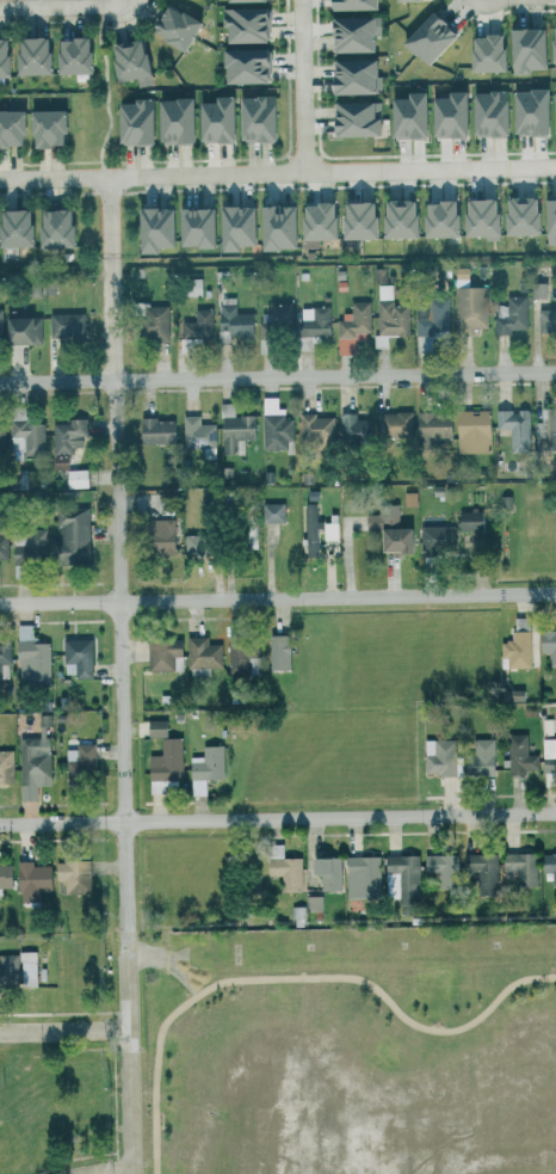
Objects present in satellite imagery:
building: (235, 0)
building: (346, 4)
road: (63, 7)
building: (241, 24)
building: (168, 26)
building: (348, 32)
building: (425, 36)
building: (550, 42)
building: (521, 49)
building: (480, 53)
building: (0, 55)
building: (26, 55)
building: (66, 55)
building: (122, 59)
building: (241, 64)
building: (347, 75)
road: (303, 86)
road: (106, 91)
building: (525, 111)
building: (552, 111)
building: (484, 112)
building: (444, 115)
building: (403, 116)
building: (253, 118)
building: (352, 118)
building: (210, 119)
building: (130, 121)
building: (169, 121)
building: (8, 127)
building: (41, 128)
road: (277, 172)
building: (514, 215)
building: (475, 217)
building: (393, 219)
building: (433, 219)
building: (352, 220)
building: (311, 221)
building: (548, 221)
building: (12, 227)
building: (48, 227)
building: (190, 227)
building: (230, 227)
building: (272, 227)
building: (148, 228)
building: (459, 277)
road: (110, 278)
building: (191, 287)
building: (537, 289)
building: (469, 308)
building: (509, 314)
building: (276, 316)
building: (388, 316)
building: (431, 316)
building: (544, 319)
building: (231, 320)
building: (152, 321)
building: (311, 321)
building: (64, 326)
building: (197, 326)
building: (351, 326)
building: (19, 330)
road: (278, 377)
building: (393, 423)
building: (430, 425)
building: (313, 428)
building: (352, 428)
building: (512, 428)
building: (545, 428)
building: (153, 430)
building: (470, 431)
building: (194, 432)
building: (24, 434)
building: (0, 435)
building: (67, 435)
building: (56, 461)
building: (75, 478)
building: (271, 511)
building: (469, 521)
building: (385, 529)
building: (316, 530)
building: (156, 536)
building: (434, 536)
building: (69, 537)
building: (193, 545)
building: (2, 547)
road: (277, 597)
building: (546, 645)
building: (518, 649)
building: (4, 650)
building: (274, 652)
building: (200, 653)
building: (162, 654)
building: (75, 657)
building: (239, 657)
building: (30, 658)
building: (552, 688)
building: (153, 727)
building: (517, 755)
building: (548, 755)
building: (437, 757)
building: (477, 757)
building: (78, 760)
building: (32, 761)
building: (163, 761)
building: (203, 768)
road: (119, 776)
road: (278, 818)
building: (549, 865)
building: (282, 867)
building: (518, 867)
building: (439, 868)
building: (480, 871)
building: (323, 872)
building: (4, 874)
building: (72, 875)
building: (360, 875)
building: (399, 877)
building: (30, 879)
building: (311, 903)
road: (338, 941)
road: (551, 958)
road: (301, 960)
building: (26, 969)
building: (7, 970)
road: (294, 978)
road: (62, 1033)
park: (350, 1050)
road: (119, 1172)

